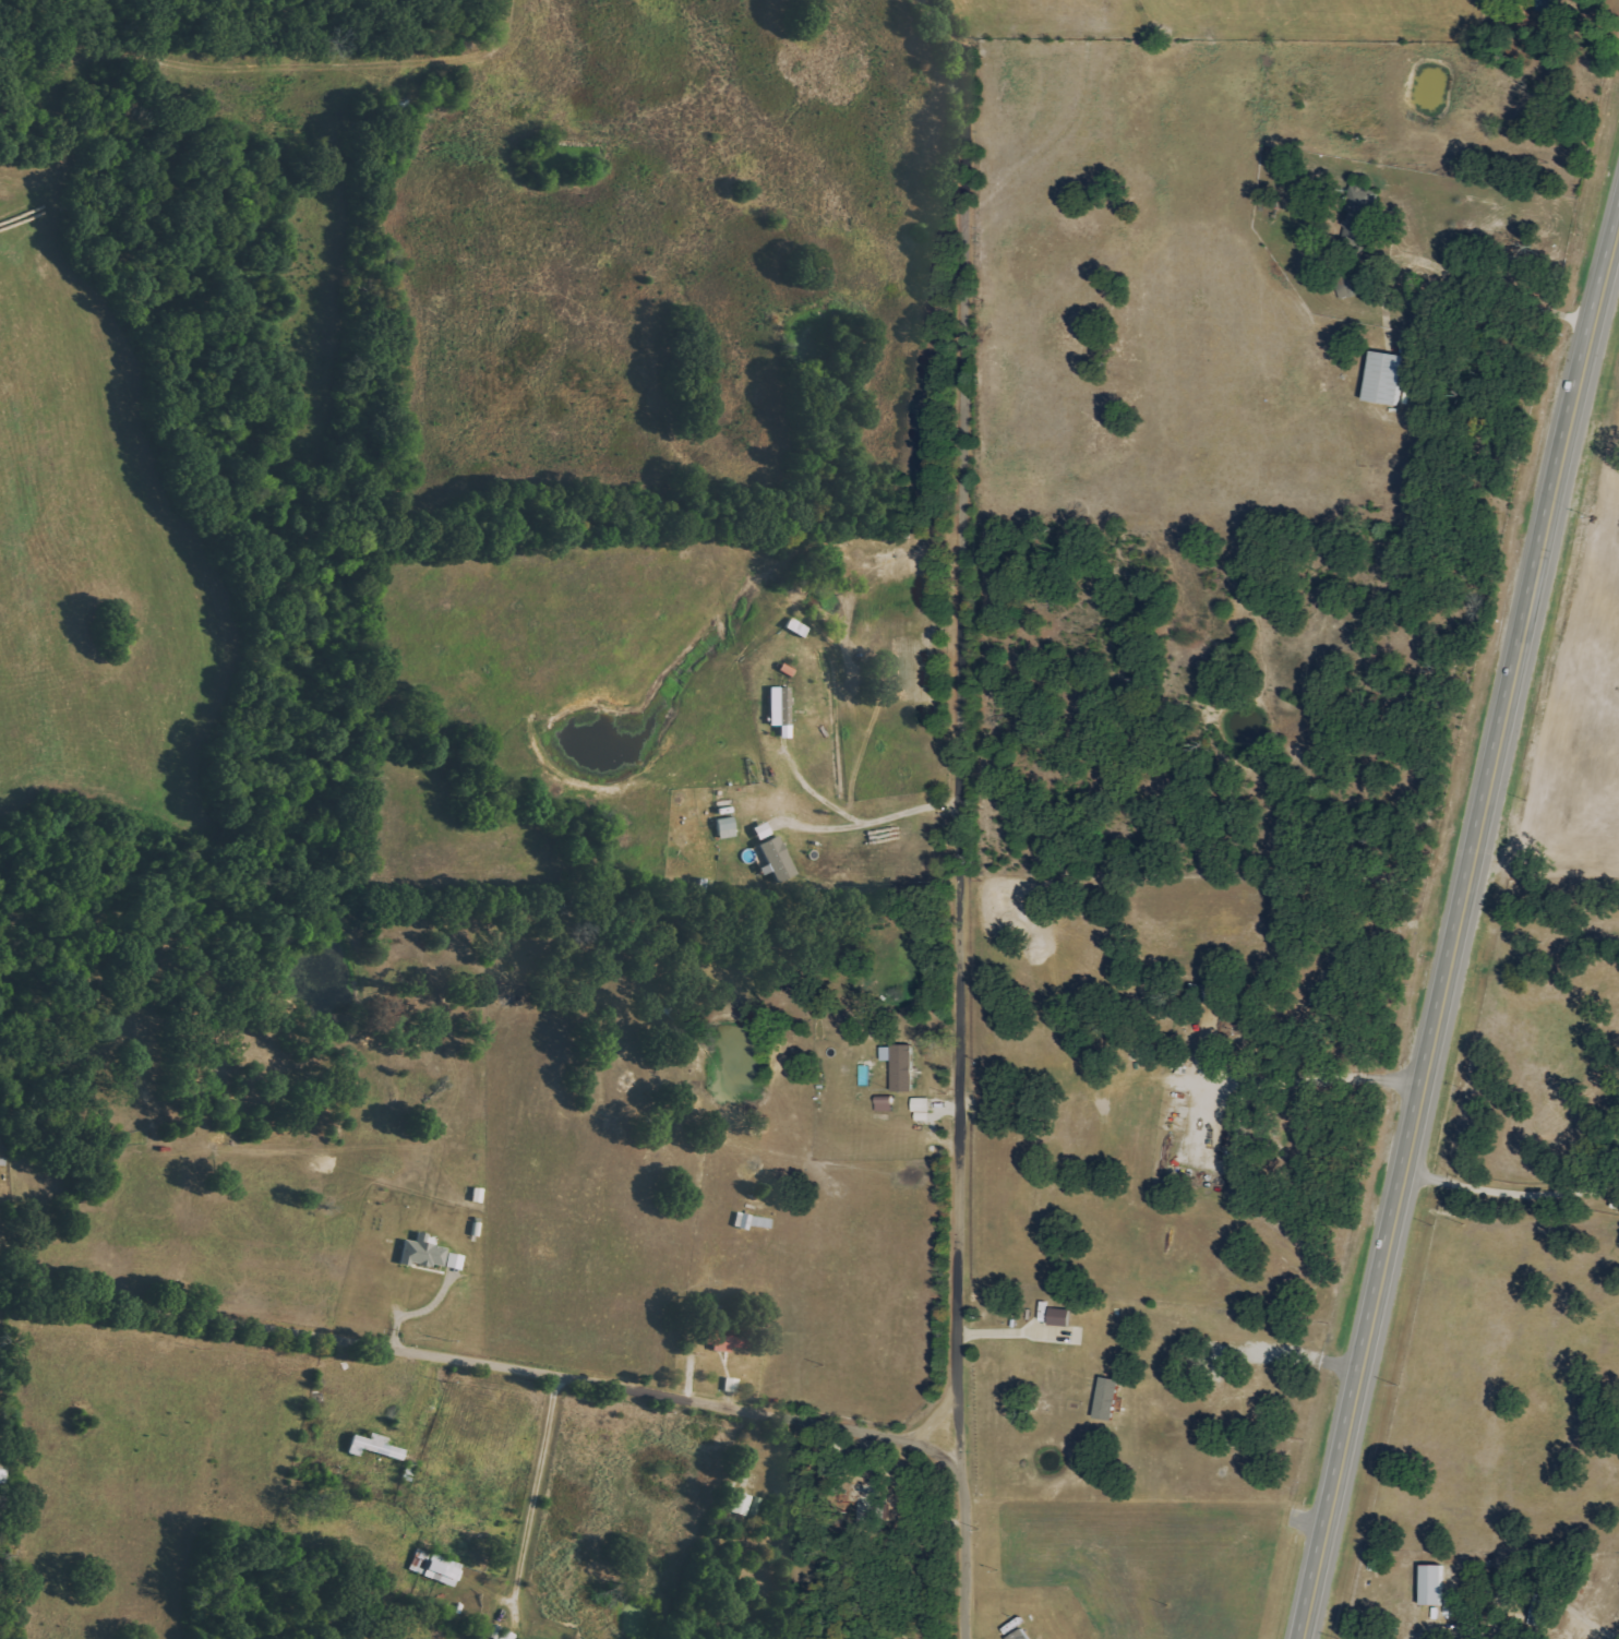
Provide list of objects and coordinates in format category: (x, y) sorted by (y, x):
building: (1358, 215)
building: (1387, 379)
building: (781, 710)
road: (961, 739)
road: (824, 794)
road: (873, 821)
building: (764, 832)
building: (779, 859)
road: (1458, 944)
building: (1209, 994)
building: (901, 1066)
building: (885, 1105)
building: (424, 1252)
building: (455, 1260)
building: (1060, 1317)
building: (724, 1335)
road: (493, 1365)
building: (732, 1385)
building: (1108, 1399)
building: (375, 1446)
road: (538, 1488)
building: (743, 1504)
building: (421, 1560)
road: (966, 1564)
building: (444, 1570)
building: (1435, 1584)
building: (1021, 1635)

